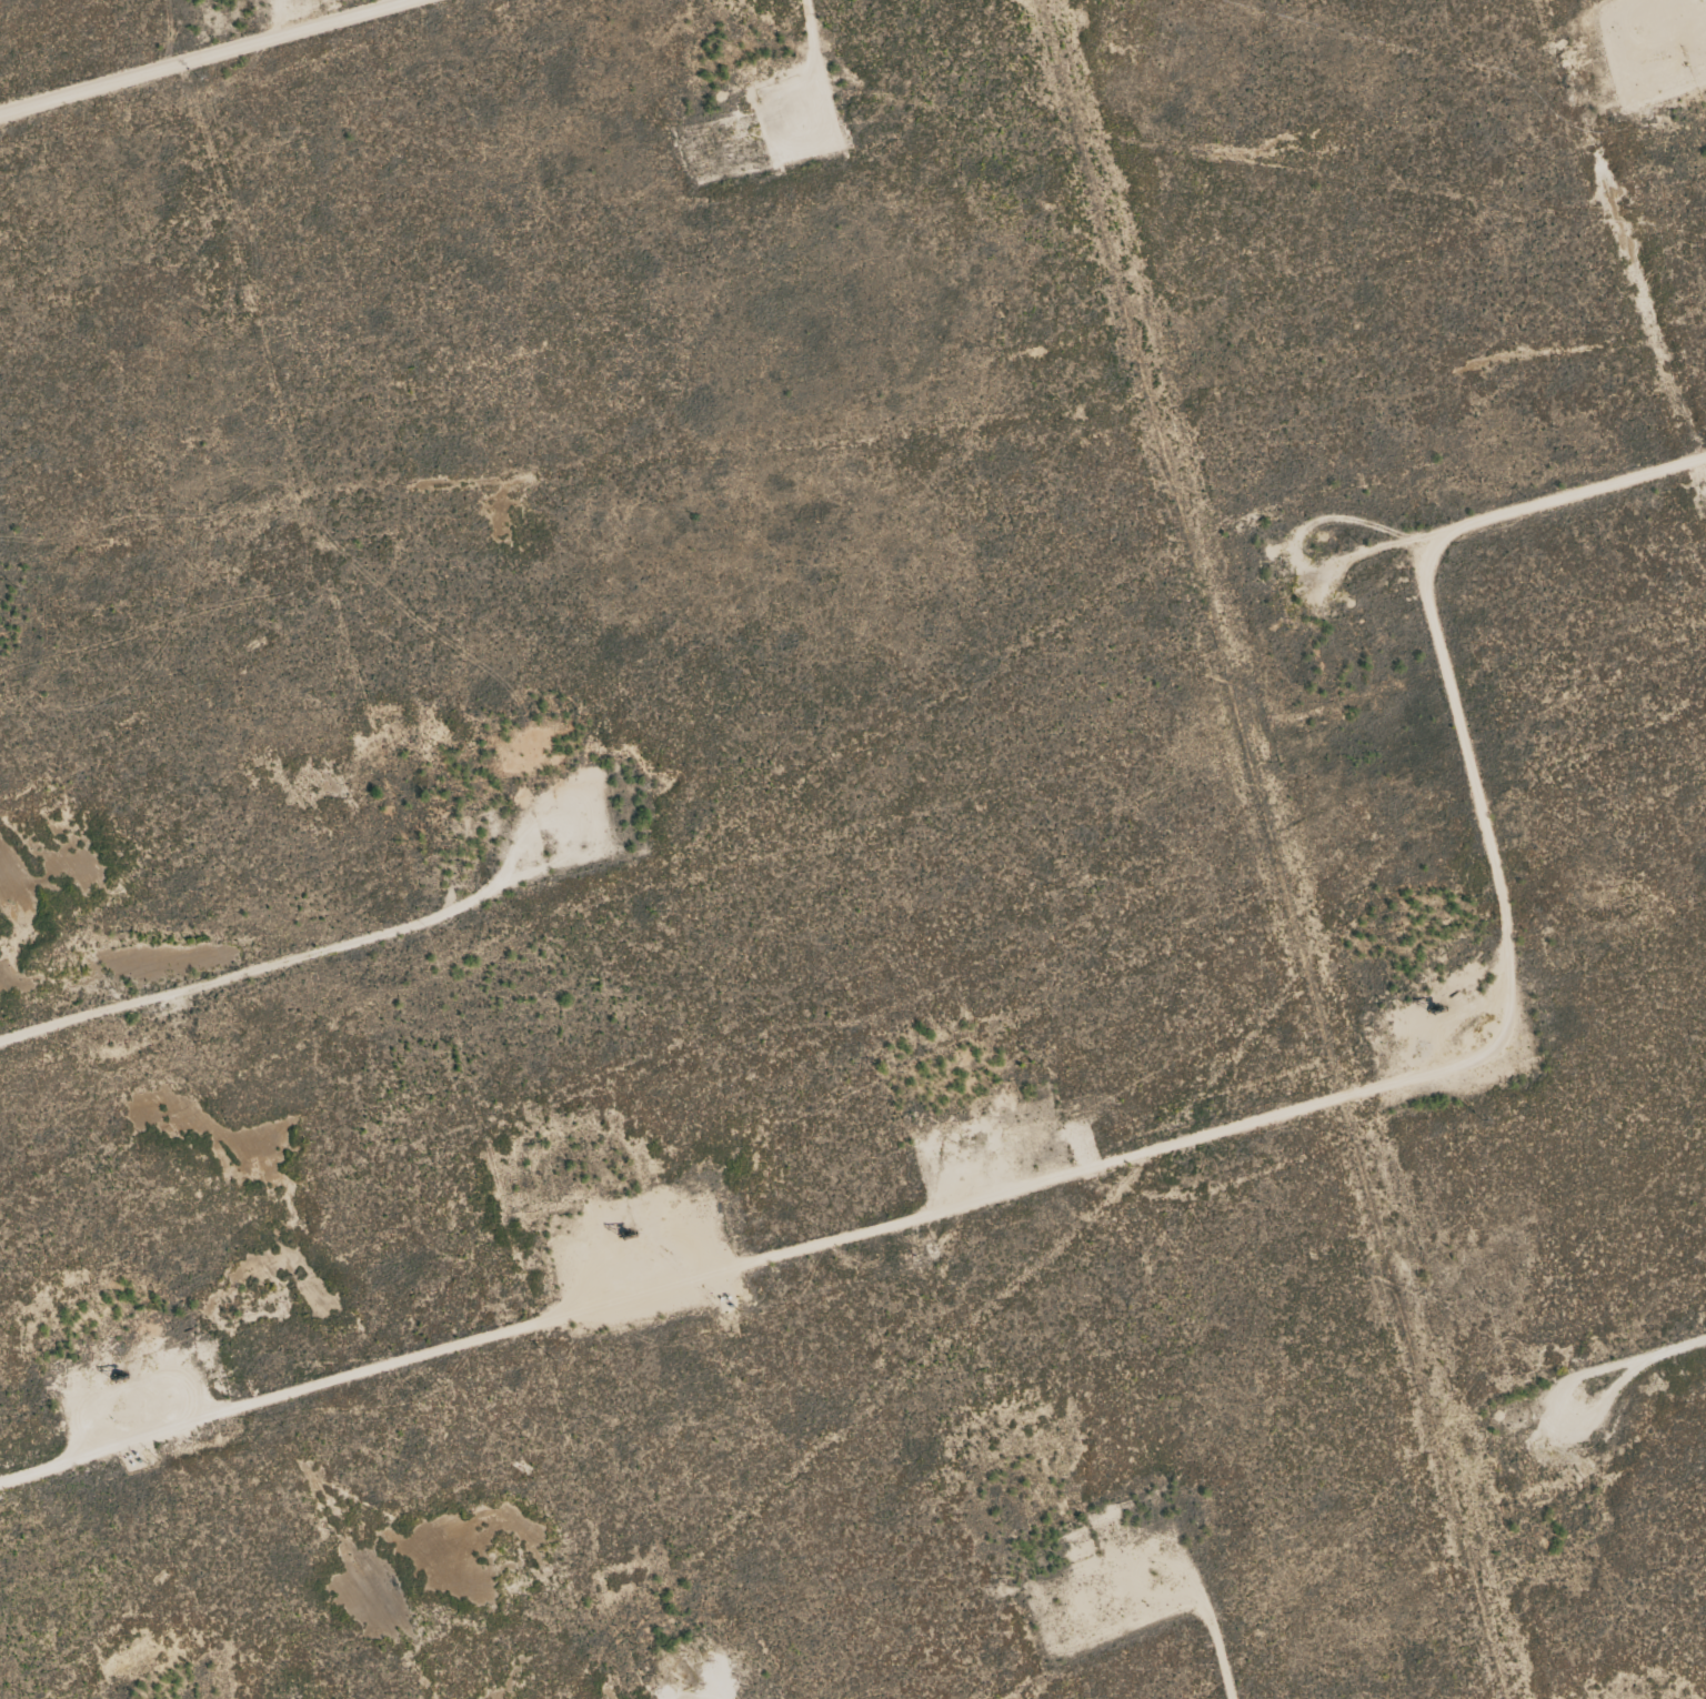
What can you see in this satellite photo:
road: (199, 56)
road: (221, 973)
road: (1132, 1158)
road: (1685, 1344)

